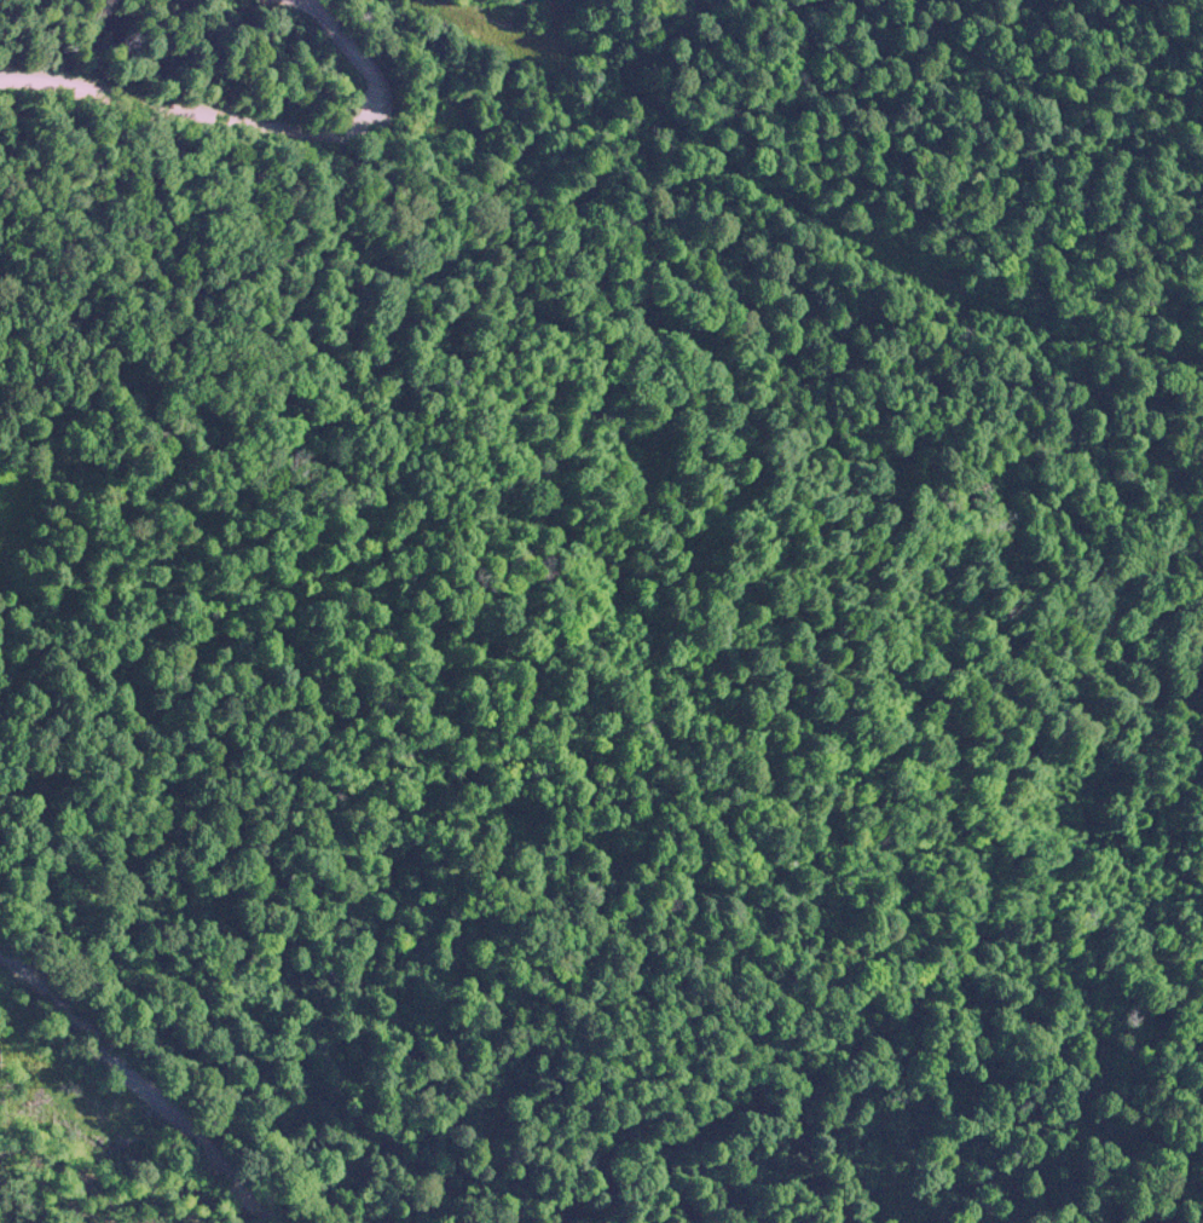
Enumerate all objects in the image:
road: (258, 120)
road: (155, 1088)

